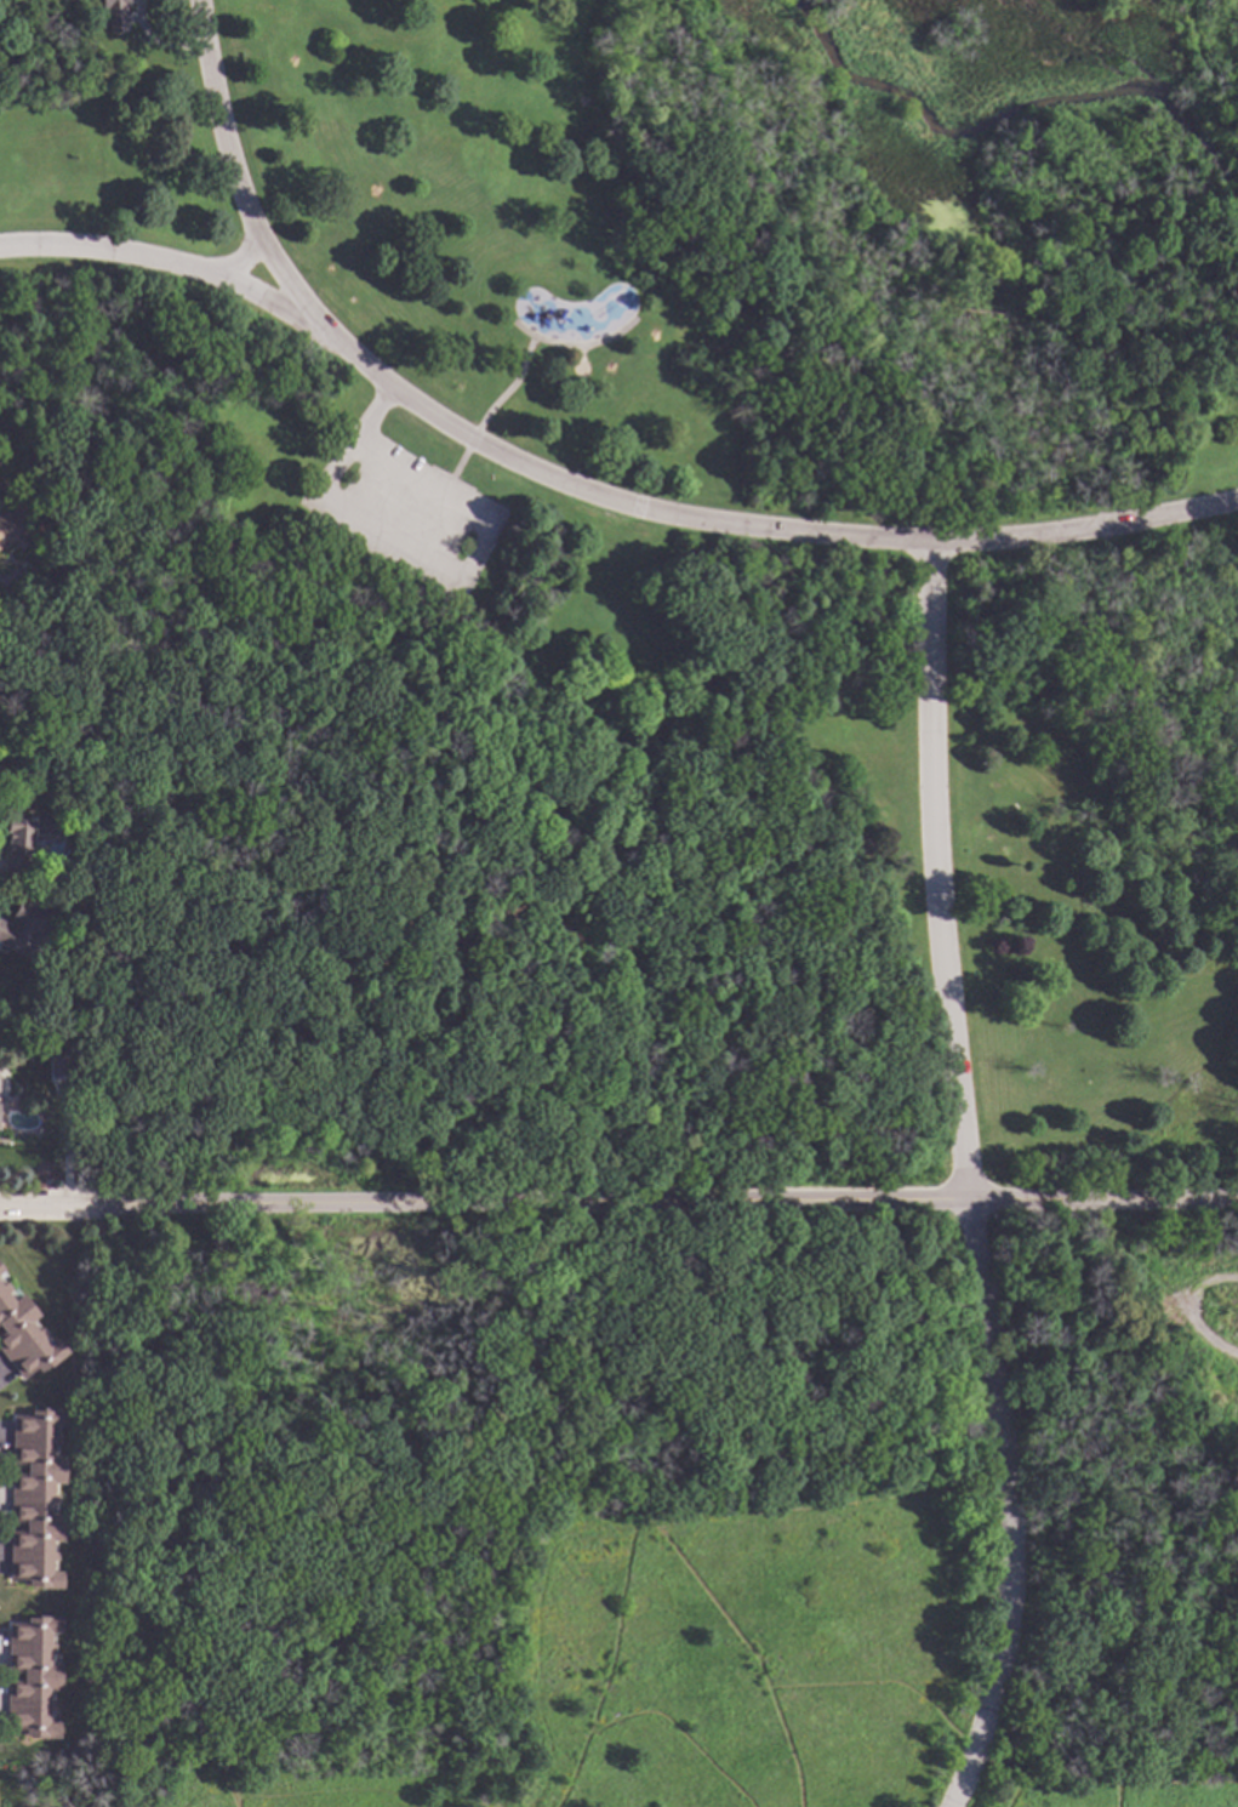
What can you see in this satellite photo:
building: (115, 15)
road: (158, 44)
road: (238, 181)
road: (241, 262)
road: (575, 346)
road: (512, 386)
road: (371, 414)
road: (472, 439)
road: (453, 475)
road: (591, 494)
parking lot: (406, 509)
building: (11, 526)
road: (453, 578)
park: (645, 585)
building: (67, 809)
road: (137, 816)
building: (19, 842)
road: (948, 871)
building: (75, 885)
road: (552, 899)
building: (23, 929)
building: (59, 1054)
building: (53, 1072)
road: (666, 1202)
road: (47, 1203)
building: (0, 1270)
road: (518, 1293)
road: (1193, 1307)
building: (24, 1336)
building: (35, 1498)
road: (1006, 1505)
park: (664, 1509)
road: (398, 1511)
road: (183, 1512)
road: (650, 1526)
road: (609, 1665)
building: (32, 1676)
road: (875, 1683)
road: (680, 1733)
road: (974, 1749)
road: (1002, 1774)
road: (1117, 1778)
road: (1116, 1792)

